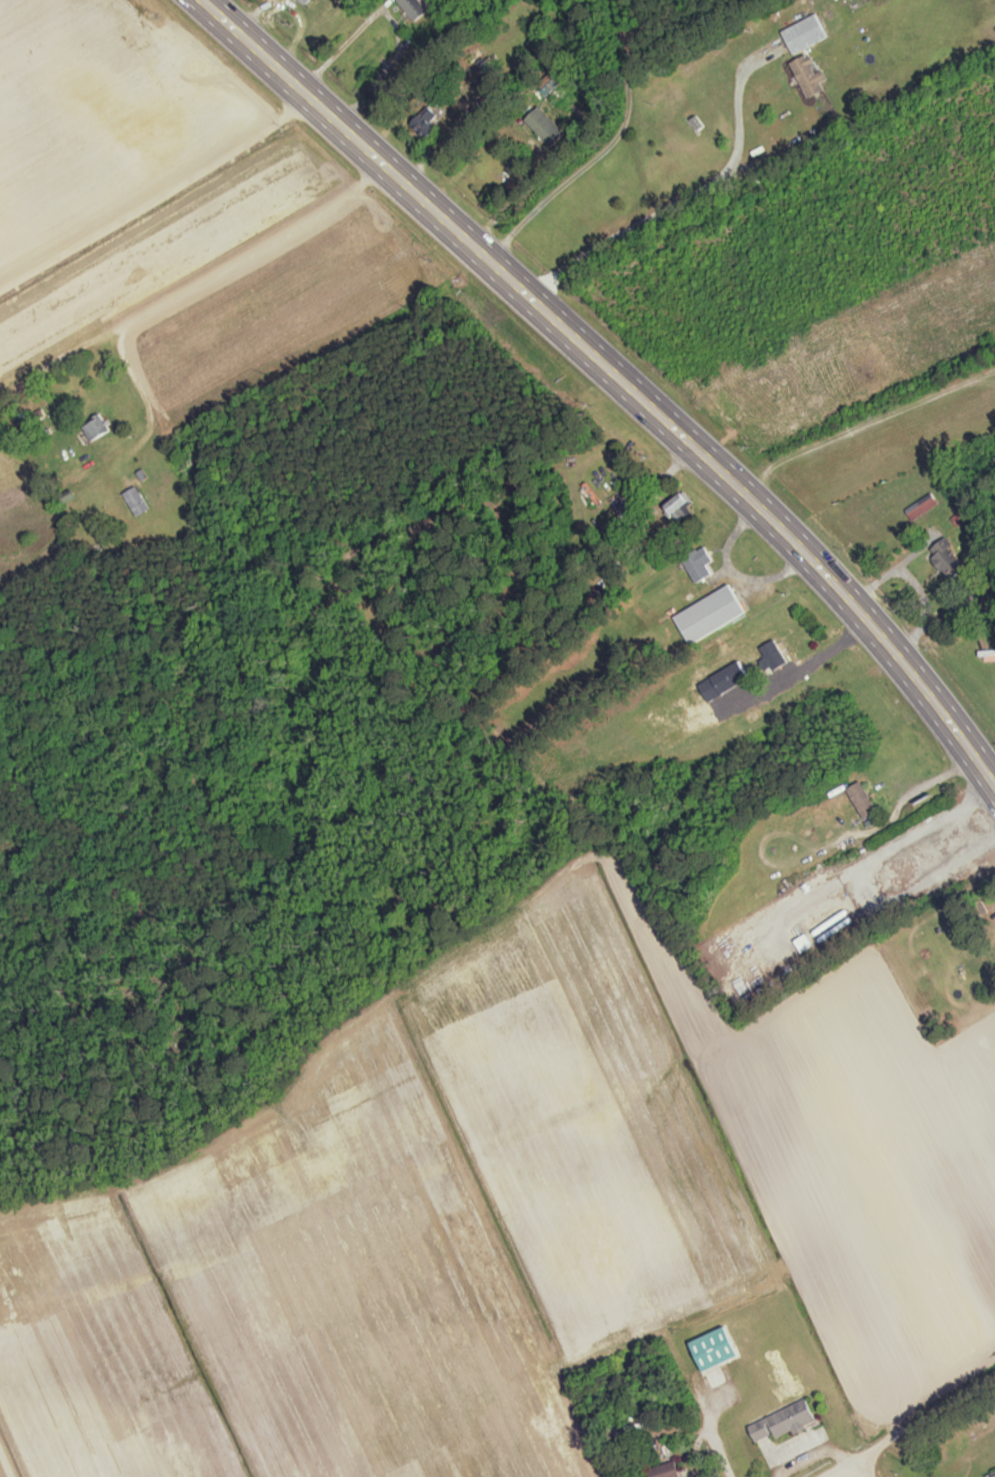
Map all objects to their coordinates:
building: (308, 1)
building: (416, 8)
road: (392, 19)
building: (807, 34)
building: (811, 77)
road: (738, 106)
building: (428, 123)
building: (548, 128)
road: (632, 223)
road: (568, 330)
building: (98, 429)
building: (138, 501)
building: (681, 505)
building: (948, 560)
building: (700, 563)
building: (712, 613)
building: (776, 654)
building: (726, 681)
road: (955, 726)
road: (934, 780)
building: (864, 799)
building: (807, 943)
building: (718, 1349)
building: (786, 1422)
road: (913, 1428)
road: (876, 1465)
building: (670, 1470)

